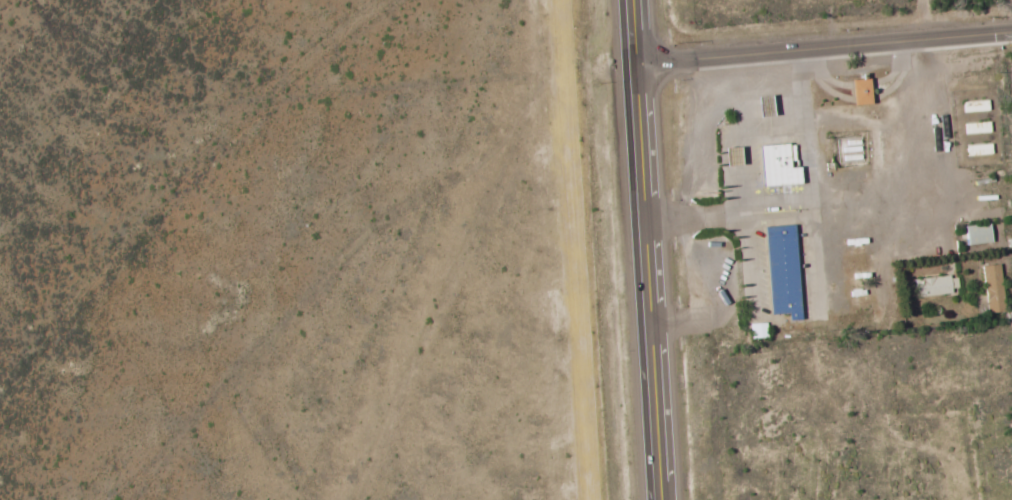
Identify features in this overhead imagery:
road: (1011, 1)
road: (972, 34)
road: (785, 50)
building: (858, 91)
building: (977, 150)
building: (775, 165)
building: (976, 234)
road: (648, 249)
building: (780, 271)
building: (934, 285)
building: (991, 288)
building: (756, 330)

